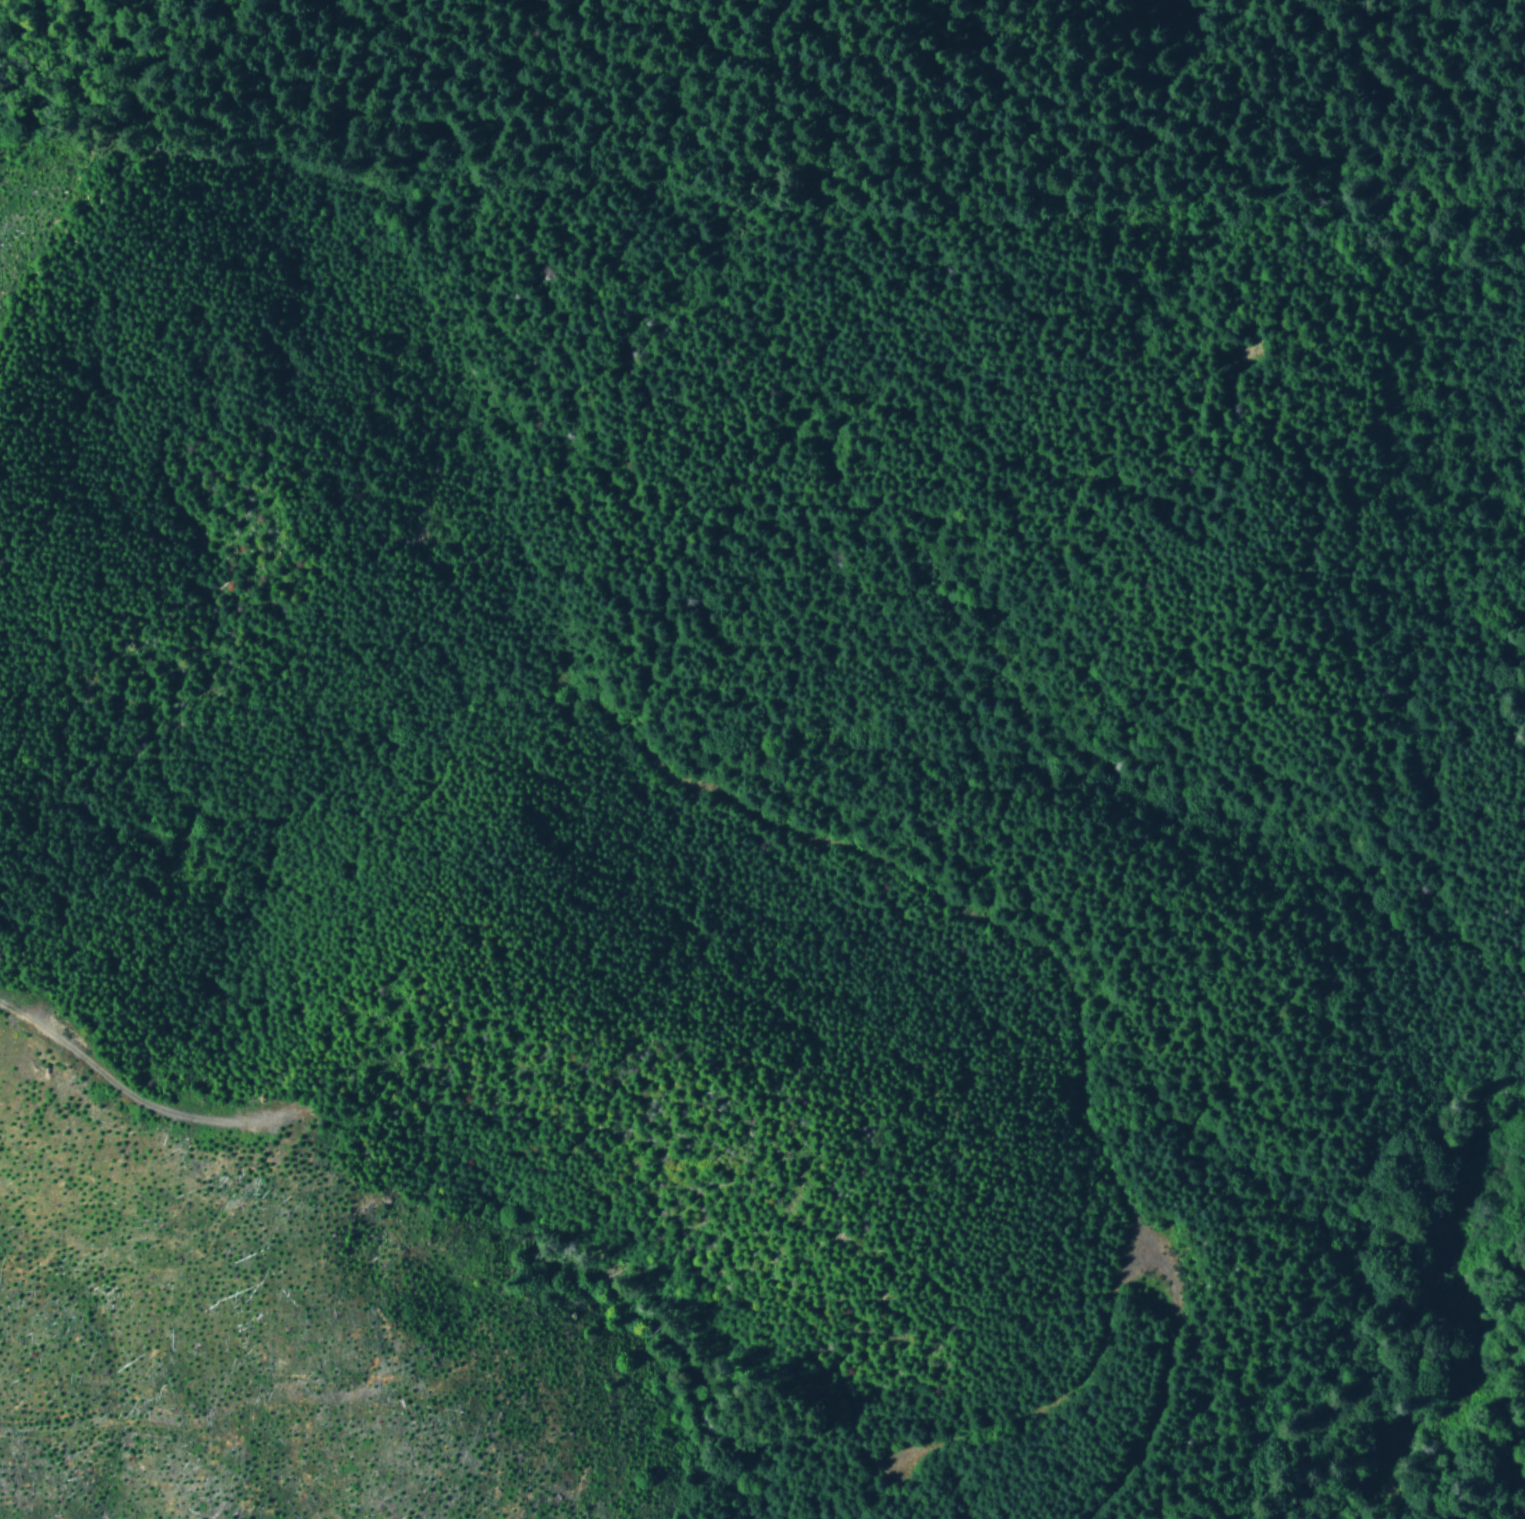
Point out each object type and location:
road: (920, 883)
road: (1119, 1275)
road: (1480, 1501)

